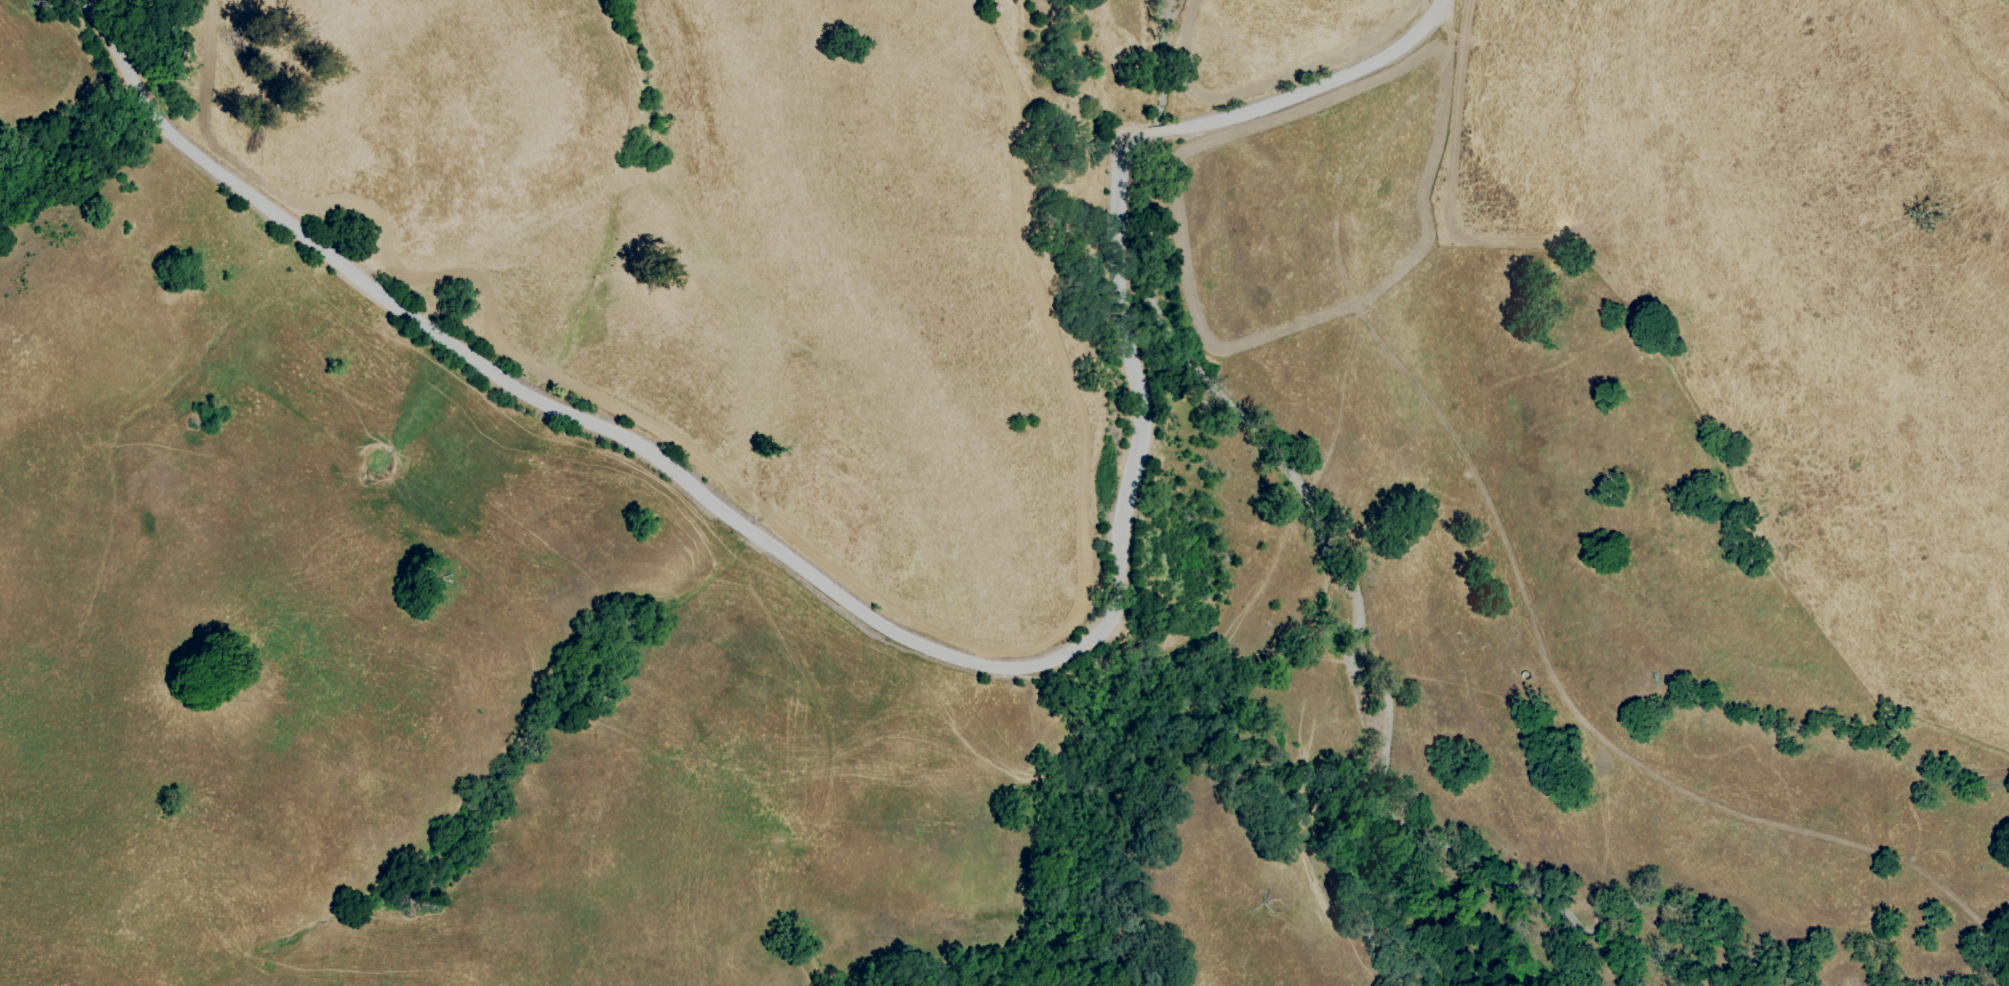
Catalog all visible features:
road: (904, 632)

